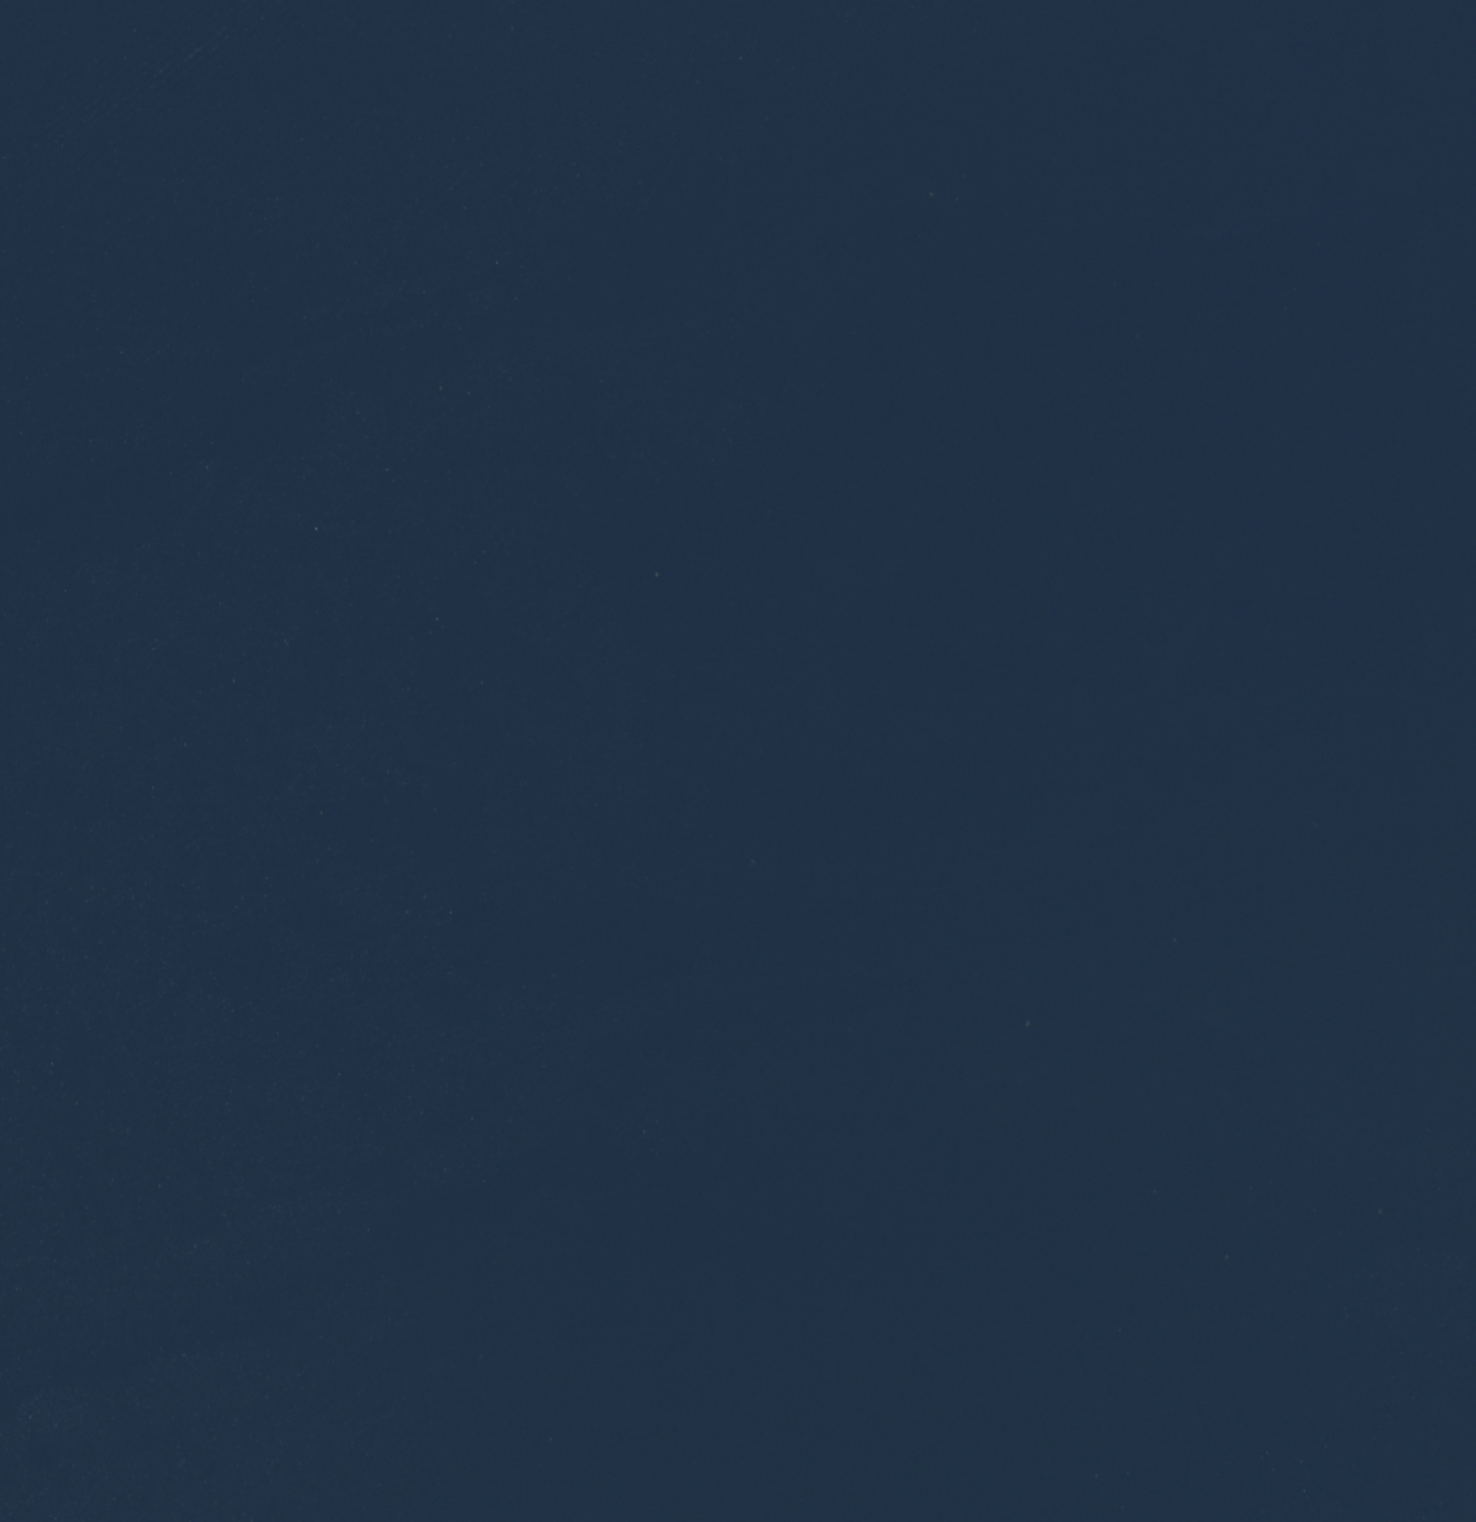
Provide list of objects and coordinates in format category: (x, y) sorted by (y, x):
river: (738, 1282)

